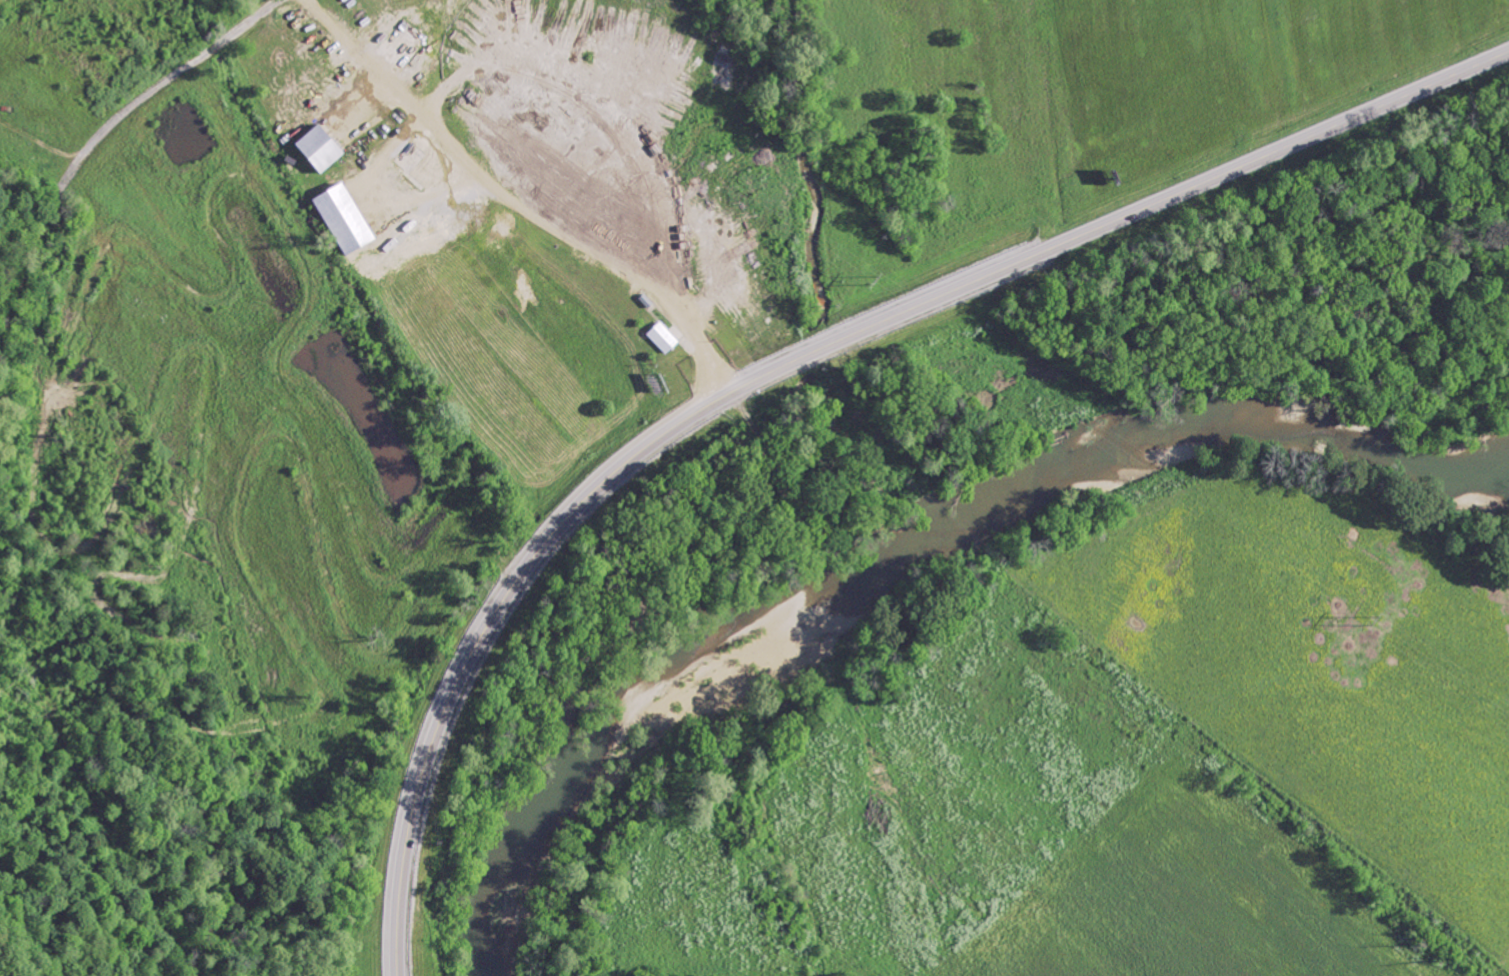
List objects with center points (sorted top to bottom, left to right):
road: (257, 20)
building: (312, 149)
building: (337, 219)
power tower: (872, 281)
road: (794, 361)
river: (910, 560)
power tower: (1370, 619)

